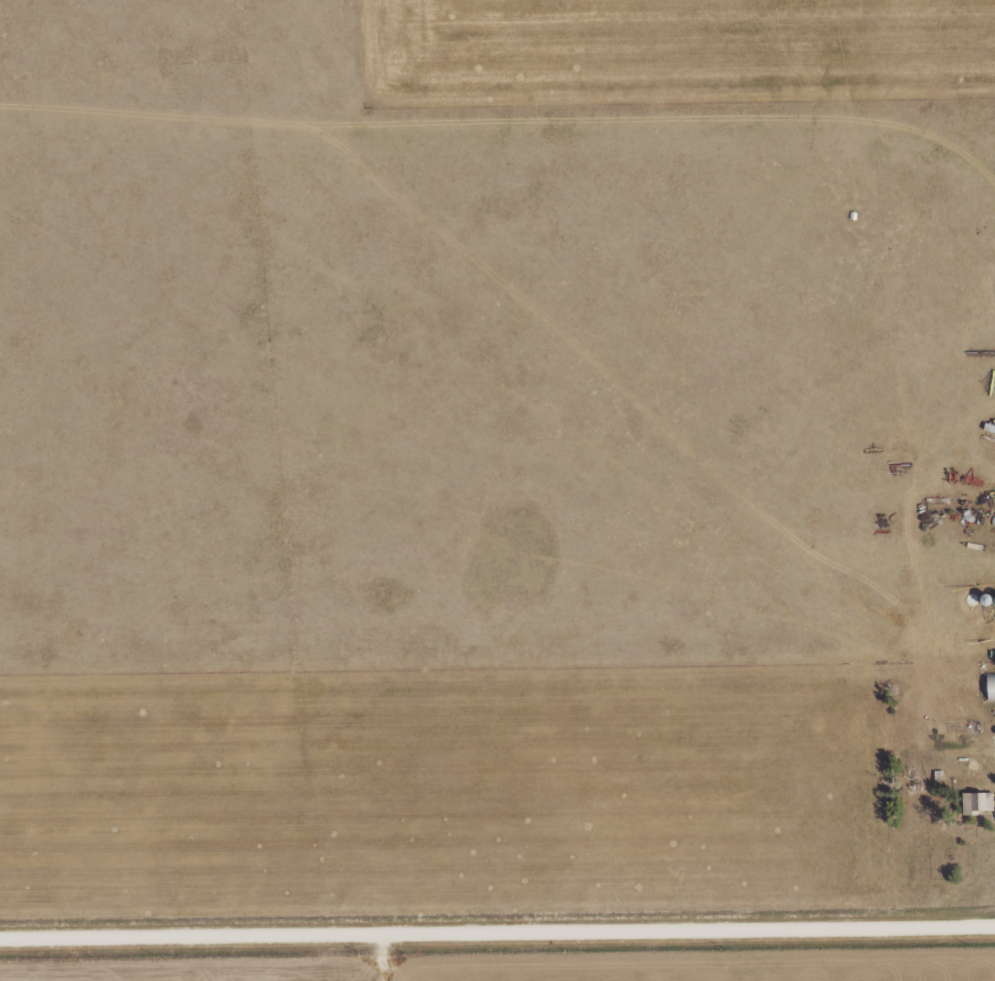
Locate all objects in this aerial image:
road: (497, 927)

